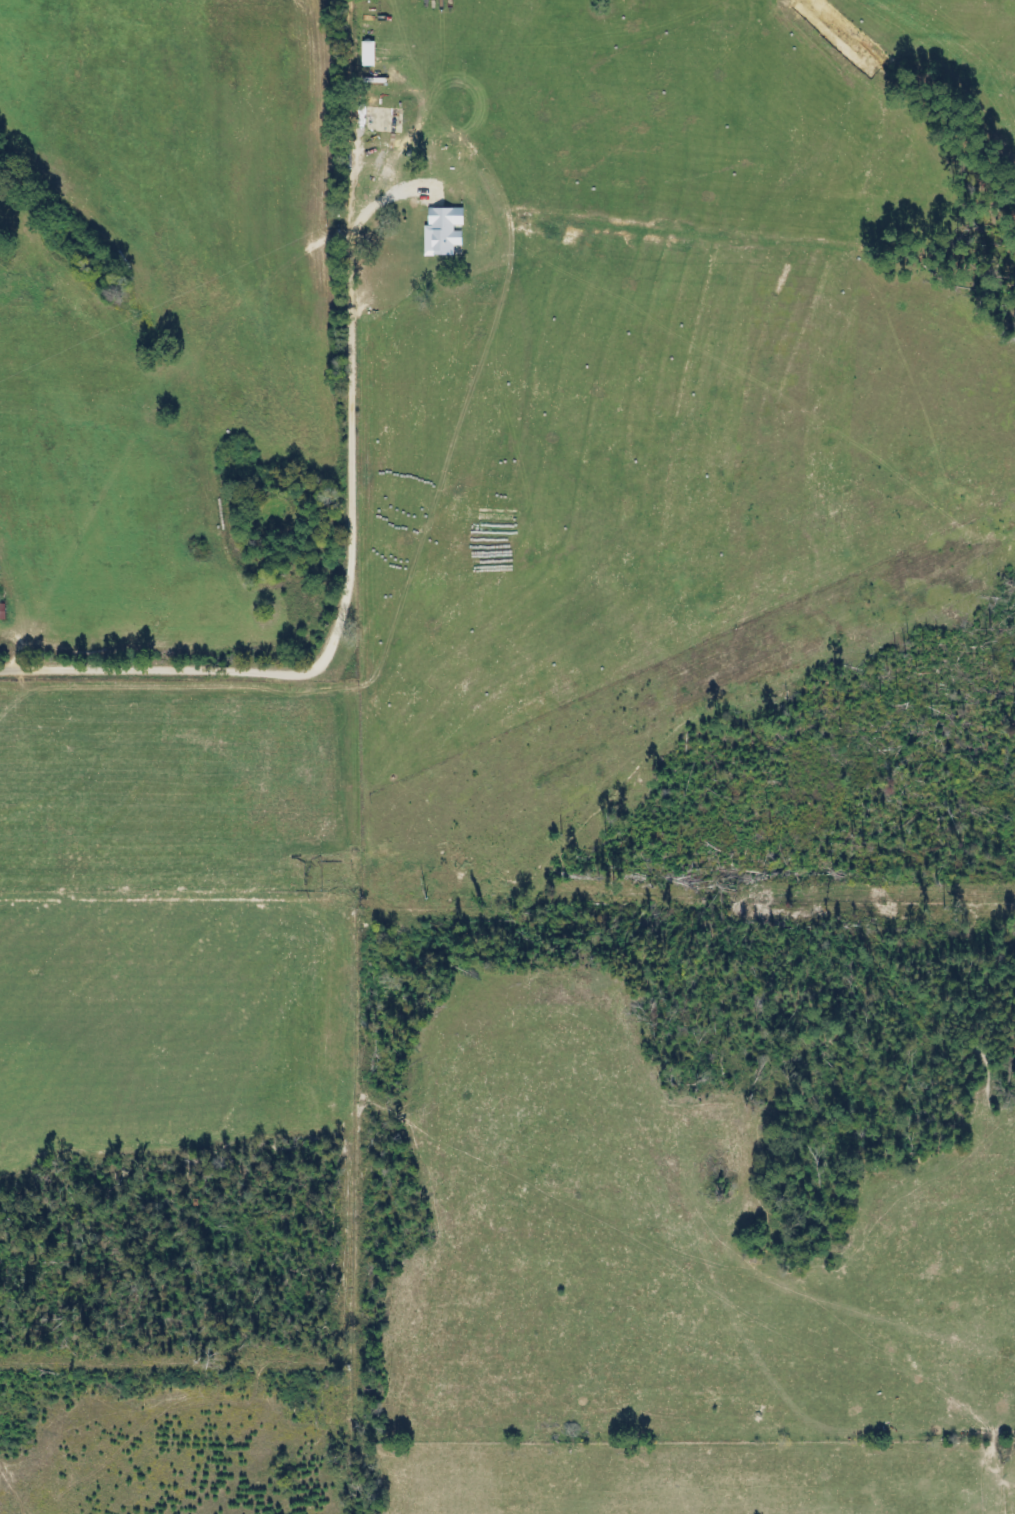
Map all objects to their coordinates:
building: (442, 232)
building: (2, 612)
road: (328, 623)

